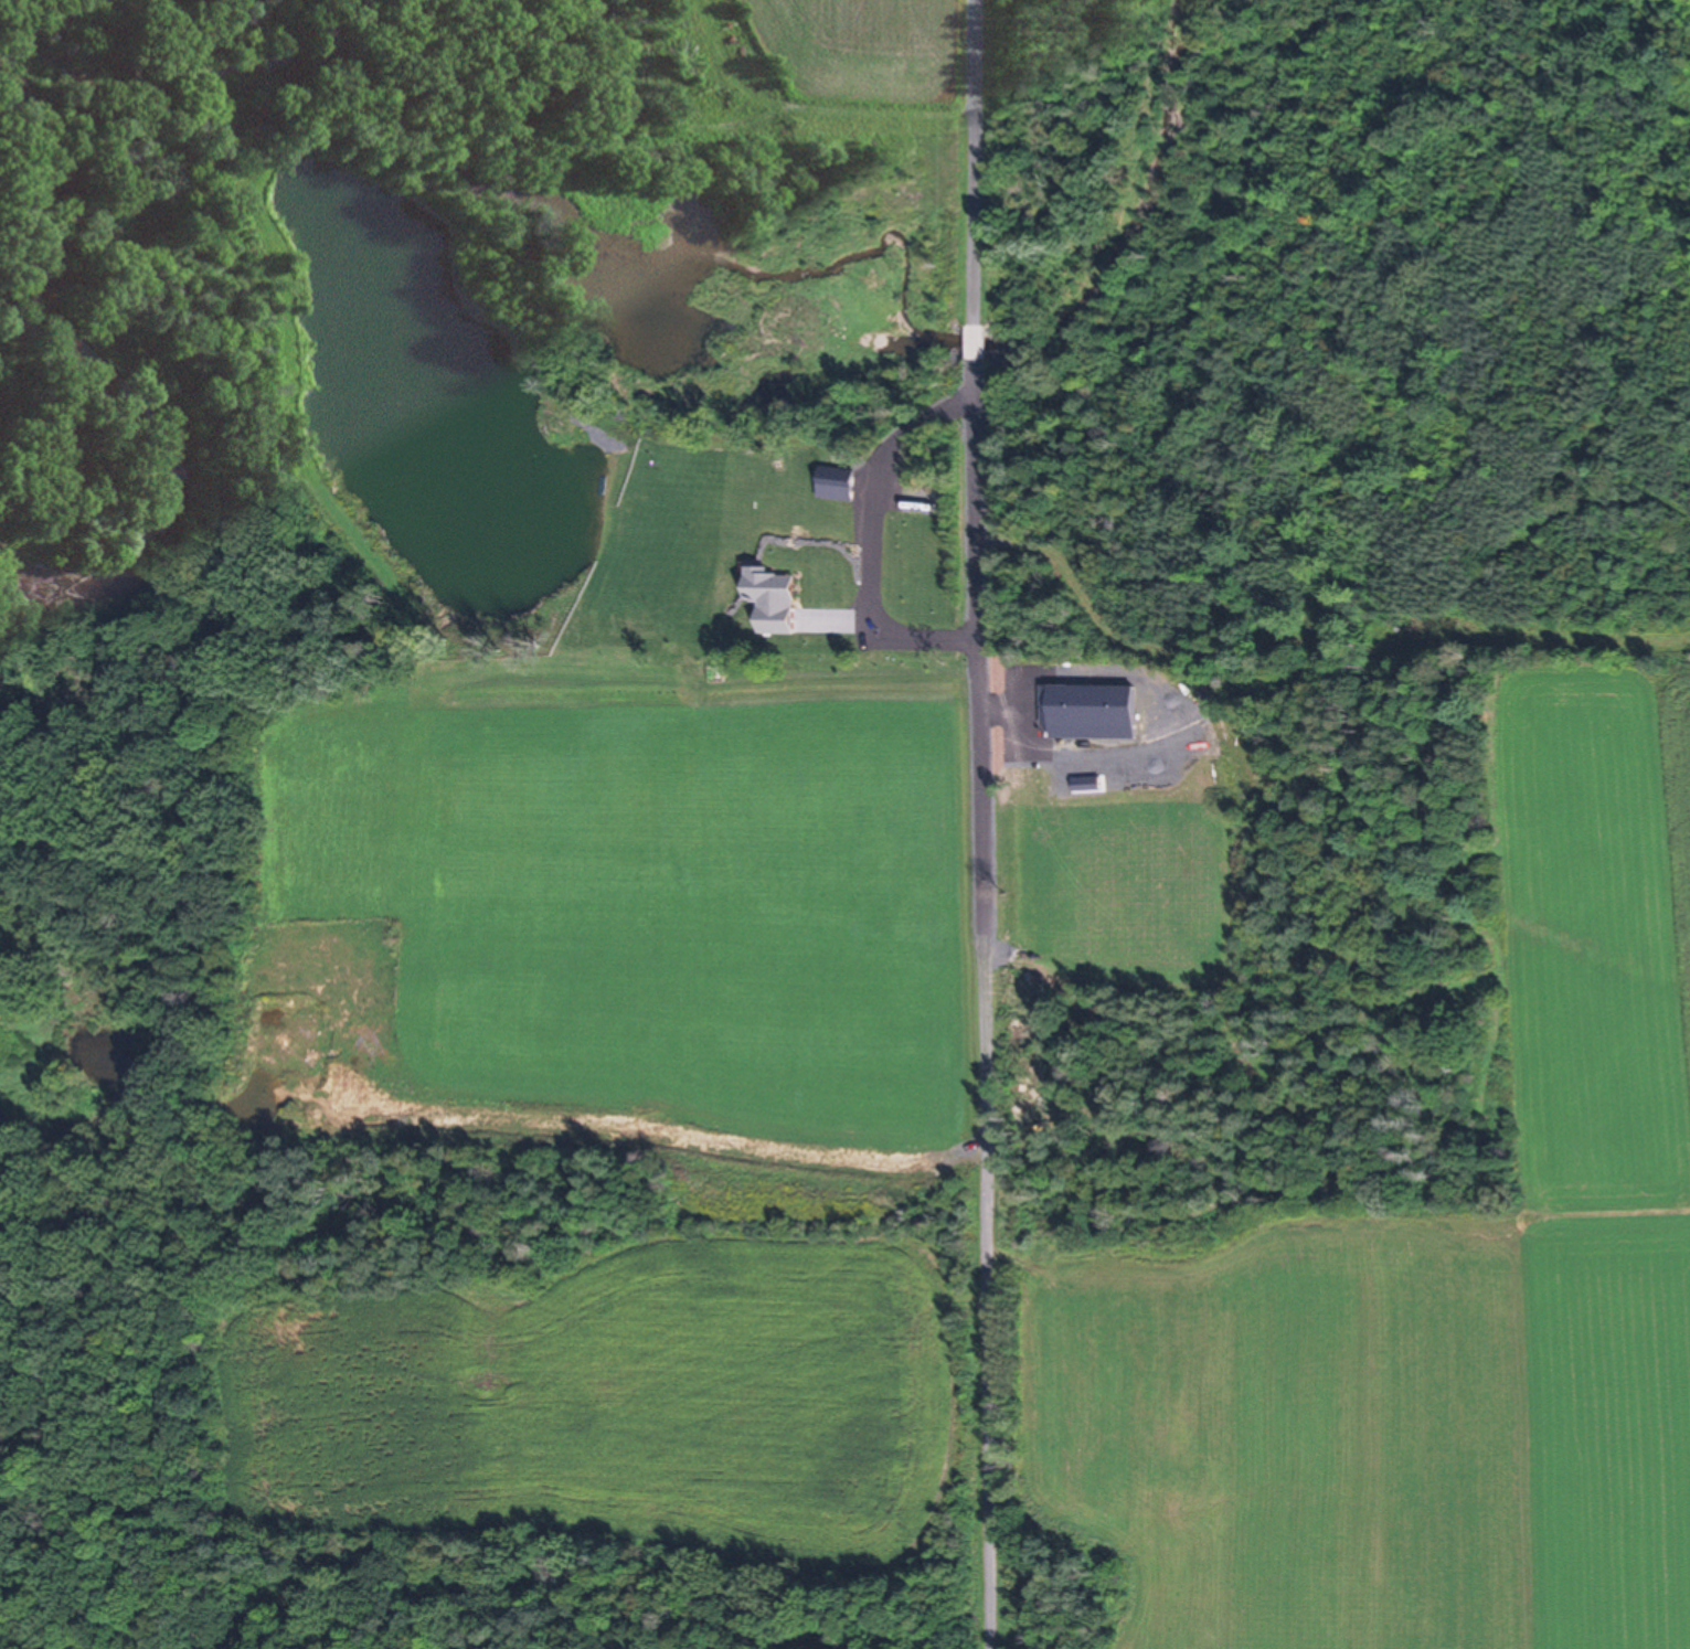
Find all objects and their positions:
river: (36, 93)
river: (135, 394)
road: (872, 536)
road: (979, 823)
river: (109, 1073)

